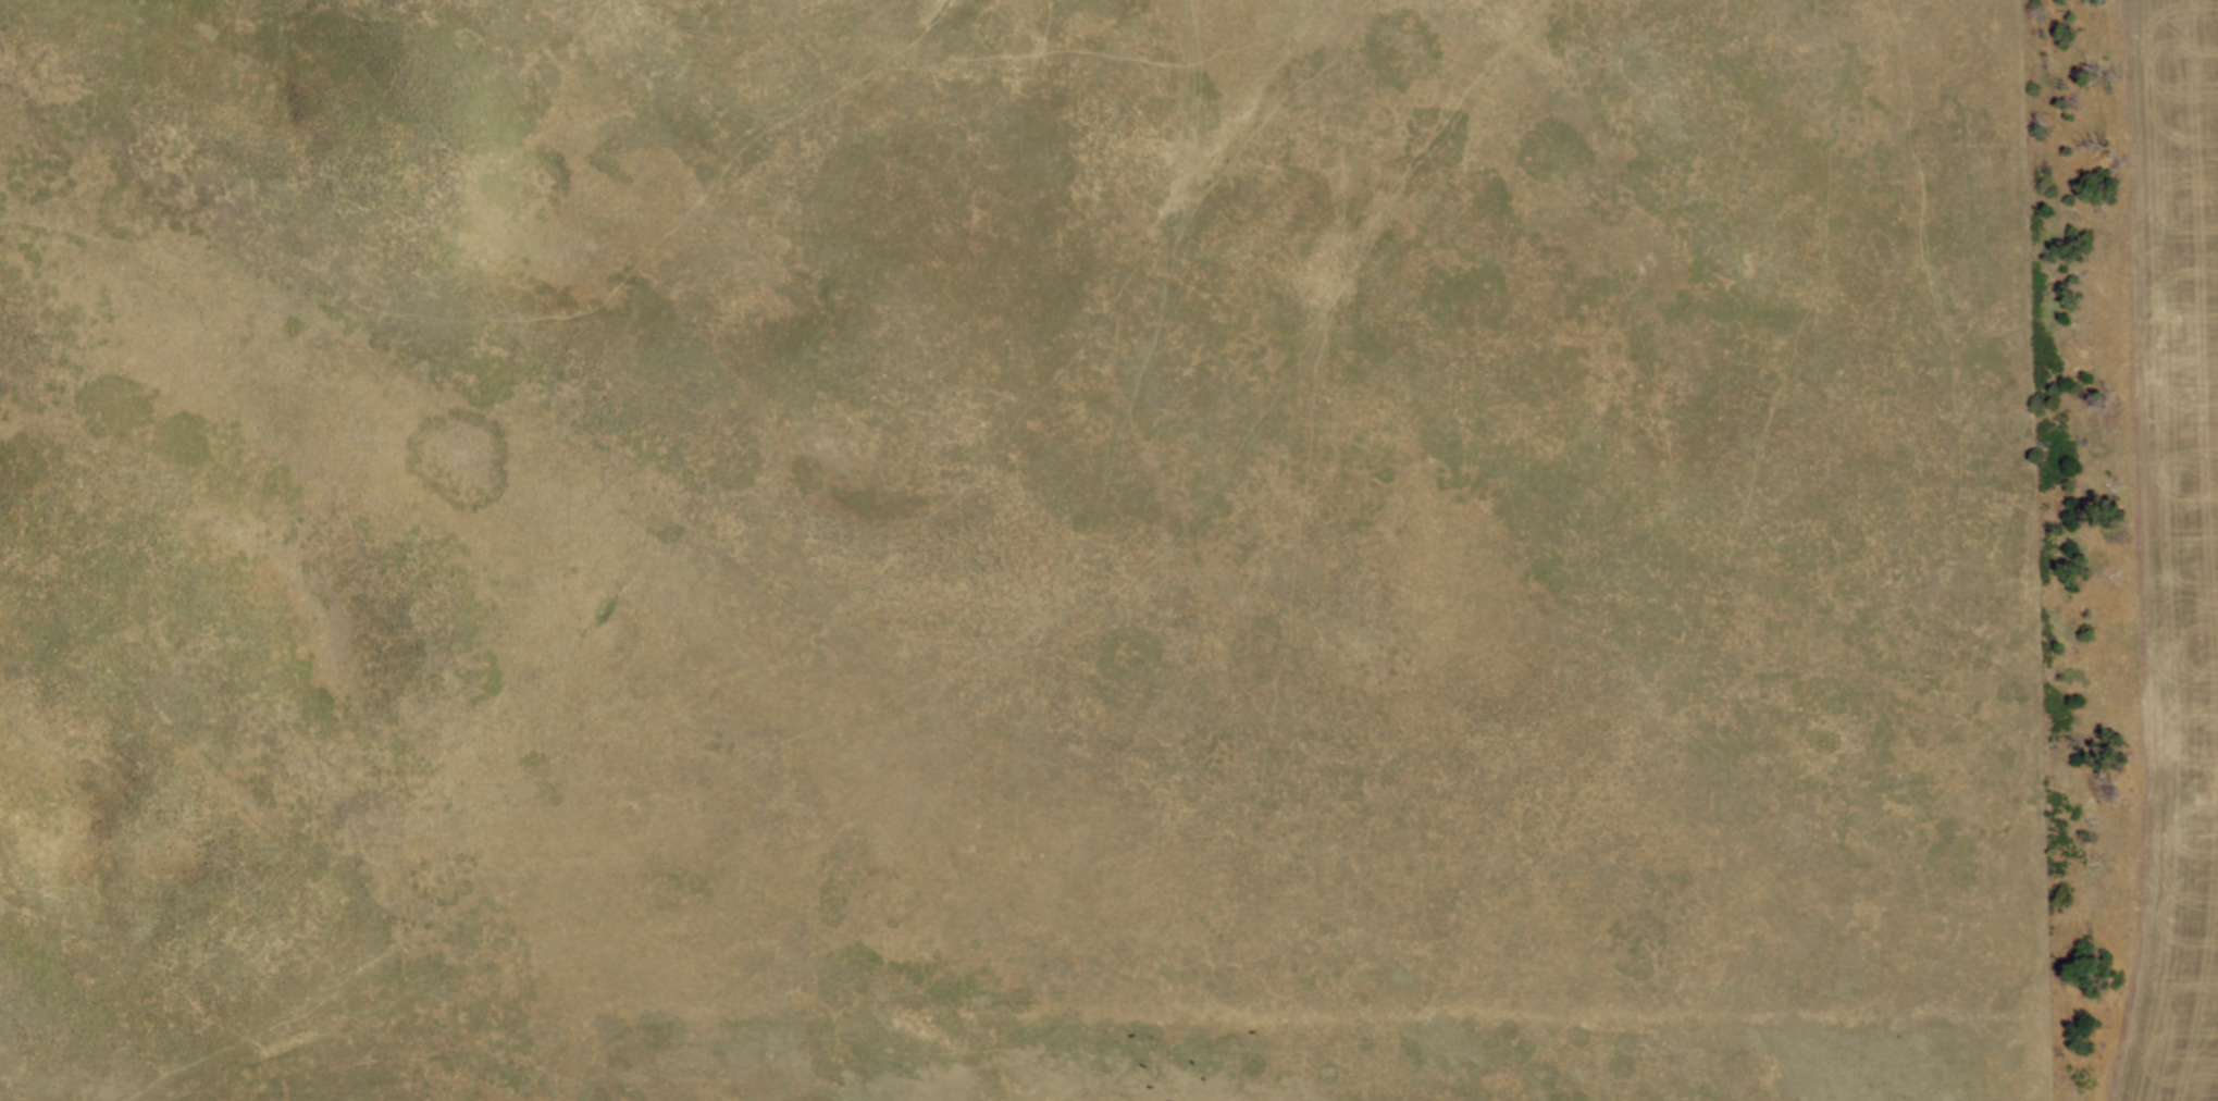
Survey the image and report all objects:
crop: (2167, 547)

